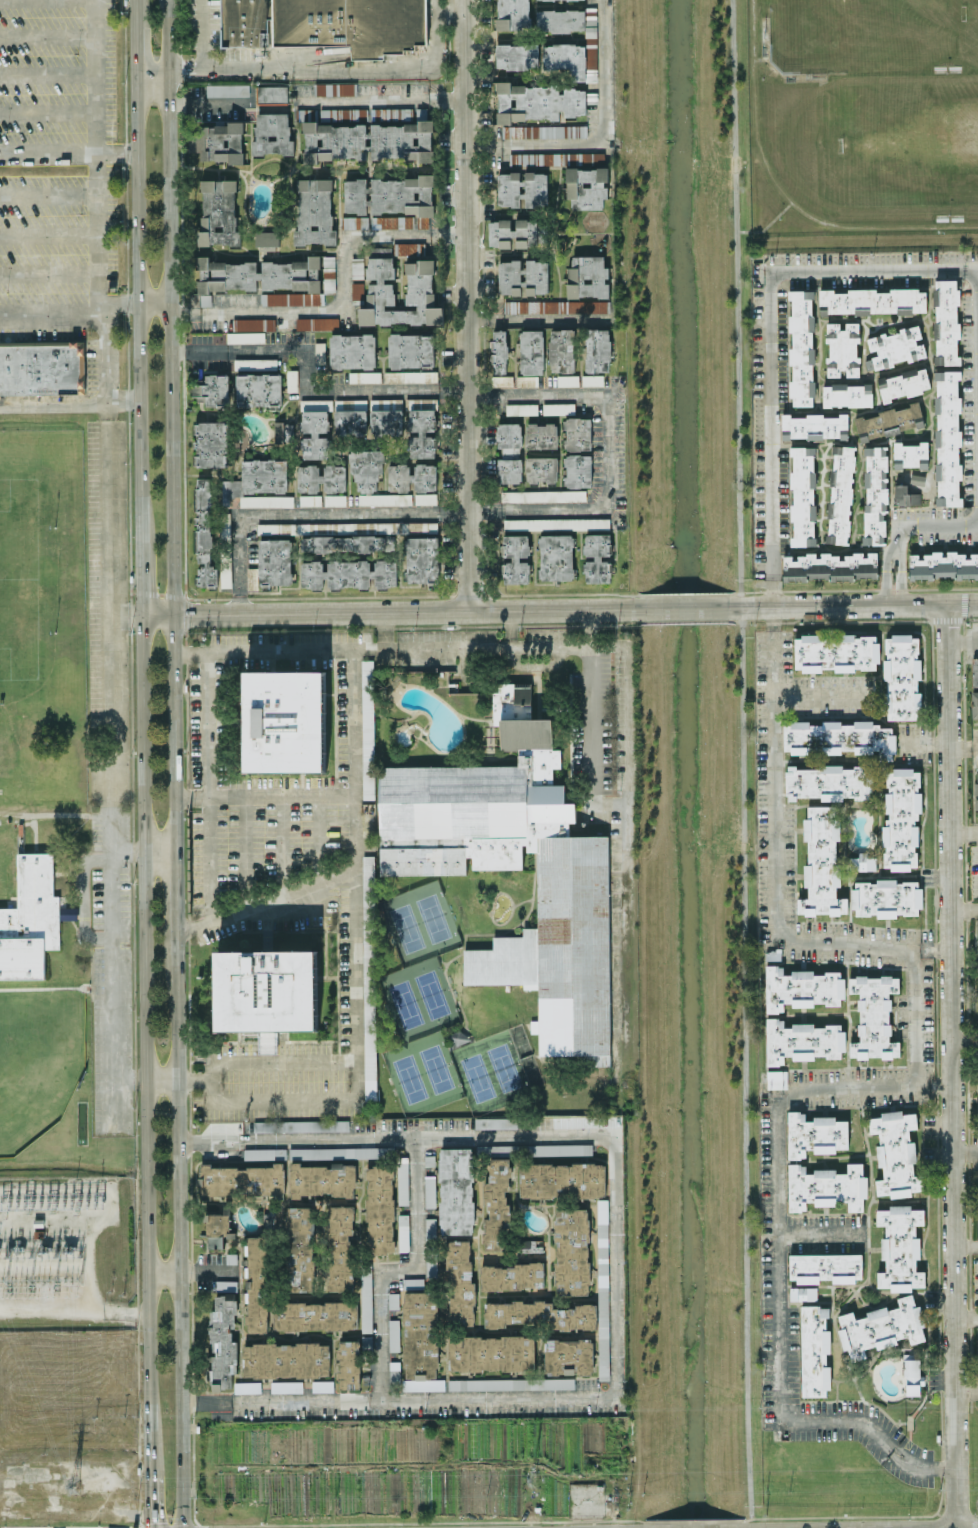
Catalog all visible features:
road: (447, 11)
building: (513, 14)
building: (327, 24)
road: (200, 33)
park: (856, 34)
park: (971, 34)
road: (48, 36)
building: (517, 56)
building: (569, 56)
road: (347, 67)
road: (184, 69)
road: (151, 71)
road: (48, 73)
building: (334, 88)
building: (227, 90)
building: (271, 94)
road: (313, 99)
building: (537, 102)
road: (48, 113)
building: (421, 113)
building: (554, 131)
building: (272, 134)
road: (599, 139)
building: (219, 141)
building: (368, 141)
park: (909, 143)
road: (47, 152)
road: (115, 152)
road: (95, 158)
building: (586, 187)
building: (522, 189)
road: (785, 194)
road: (47, 195)
building: (390, 195)
building: (219, 212)
building: (314, 212)
building: (355, 222)
building: (390, 222)
road: (766, 226)
building: (518, 233)
road: (47, 237)
building: (267, 241)
building: (357, 267)
road: (136, 270)
road: (47, 274)
building: (329, 274)
building: (522, 277)
building: (587, 277)
building: (264, 280)
building: (420, 293)
road: (341, 299)
building: (875, 301)
road: (115, 303)
road: (154, 303)
road: (466, 305)
building: (556, 306)
road: (171, 307)
road: (47, 316)
road: (539, 319)
building: (946, 322)
building: (317, 323)
building: (253, 324)
road: (771, 335)
building: (245, 337)
building: (802, 347)
building: (843, 347)
building: (895, 347)
building: (411, 350)
building: (561, 350)
building: (597, 350)
building: (352, 351)
building: (498, 351)
building: (530, 357)
building: (255, 363)
building: (41, 367)
building: (948, 367)
building: (410, 376)
building: (364, 377)
building: (292, 380)
building: (503, 380)
building: (567, 380)
building: (592, 380)
road: (303, 385)
building: (903, 385)
building: (213, 389)
building: (259, 389)
building: (847, 395)
road: (69, 401)
building: (558, 408)
building: (521, 409)
building: (386, 415)
building: (350, 416)
building: (890, 420)
building: (422, 425)
building: (814, 426)
building: (315, 428)
building: (541, 435)
building: (509, 437)
building: (947, 439)
building: (210, 444)
building: (577, 452)
building: (911, 455)
building: (366, 468)
building: (542, 469)
building: (508, 471)
building: (264, 475)
building: (412, 477)
building: (321, 478)
building: (917, 479)
building: (840, 494)
building: (544, 495)
building: (875, 495)
building: (803, 496)
building: (905, 496)
building: (425, 498)
building: (335, 499)
building: (385, 499)
building: (266, 500)
building: (310, 500)
road: (501, 511)
building: (556, 523)
road: (926, 525)
building: (284, 528)
building: (204, 532)
building: (344, 543)
building: (555, 557)
building: (515, 558)
building: (598, 558)
building: (421, 559)
building: (272, 564)
building: (943, 565)
building: (830, 566)
building: (349, 573)
building: (225, 575)
road: (886, 575)
road: (901, 576)
road: (139, 578)
park: (18, 579)
road: (964, 604)
road: (864, 605)
road: (756, 607)
road: (684, 608)
road: (403, 611)
road: (125, 616)
road: (156, 616)
road: (386, 629)
road: (964, 640)
road: (613, 645)
building: (836, 652)
building: (902, 677)
building: (975, 687)
road: (827, 696)
building: (510, 700)
building: (285, 721)
road: (110, 723)
road: (593, 723)
building: (367, 729)
road: (174, 732)
building: (839, 738)
road: (964, 746)
road: (740, 764)
building: (828, 782)
building: (976, 793)
road: (265, 794)
building: (901, 819)
road: (965, 832)
road: (321, 838)
road: (281, 845)
road: (126, 850)
road: (158, 850)
road: (244, 851)
road: (788, 853)
road: (210, 861)
building: (862, 862)
building: (821, 863)
building: (886, 898)
road: (176, 900)
building: (572, 900)
road: (965, 908)
building: (67, 909)
building: (30, 919)
road: (195, 923)
road: (358, 959)
building: (368, 976)
building: (801, 988)
building: (266, 993)
building: (874, 1016)
road: (923, 1018)
building: (459, 1036)
building: (802, 1041)
road: (144, 1044)
road: (966, 1045)
road: (275, 1060)
park: (37, 1063)
road: (955, 1066)
building: (776, 1079)
road: (193, 1080)
road: (130, 1081)
road: (161, 1081)
building: (582, 1121)
building: (495, 1122)
building: (301, 1125)
building: (815, 1134)
building: (534, 1149)
building: (336, 1152)
road: (967, 1152)
building: (265, 1153)
building: (896, 1153)
building: (322, 1179)
building: (241, 1180)
building: (402, 1180)
building: (562, 1180)
building: (826, 1187)
building: (456, 1190)
building: (430, 1191)
building: (496, 1205)
building: (380, 1209)
building: (38, 1222)
road: (76, 1227)
building: (216, 1230)
building: (403, 1232)
road: (820, 1232)
road: (178, 1239)
road: (967, 1244)
building: (529, 1245)
building: (340, 1247)
building: (299, 1248)
building: (900, 1248)
power substation: (65, 1251)
building: (571, 1251)
road: (616, 1265)
road: (777, 1267)
building: (825, 1267)
building: (431, 1268)
road: (90, 1269)
road: (398, 1270)
road: (208, 1271)
road: (162, 1272)
building: (512, 1276)
building: (460, 1280)
building: (257, 1284)
building: (225, 1285)
building: (602, 1289)
building: (803, 1293)
building: (366, 1300)
road: (73, 1309)
building: (540, 1314)
building: (314, 1315)
road: (967, 1316)
building: (881, 1327)
building: (394, 1335)
building: (421, 1341)
building: (223, 1342)
building: (815, 1350)
building: (491, 1353)
building: (568, 1355)
building: (286, 1359)
building: (349, 1364)
building: (912, 1375)
building: (511, 1383)
building: (322, 1385)
building: (287, 1386)
building: (247, 1387)
road: (968, 1390)
power tower: (529, 1479)
power tower: (72, 1485)
road: (147, 1501)

